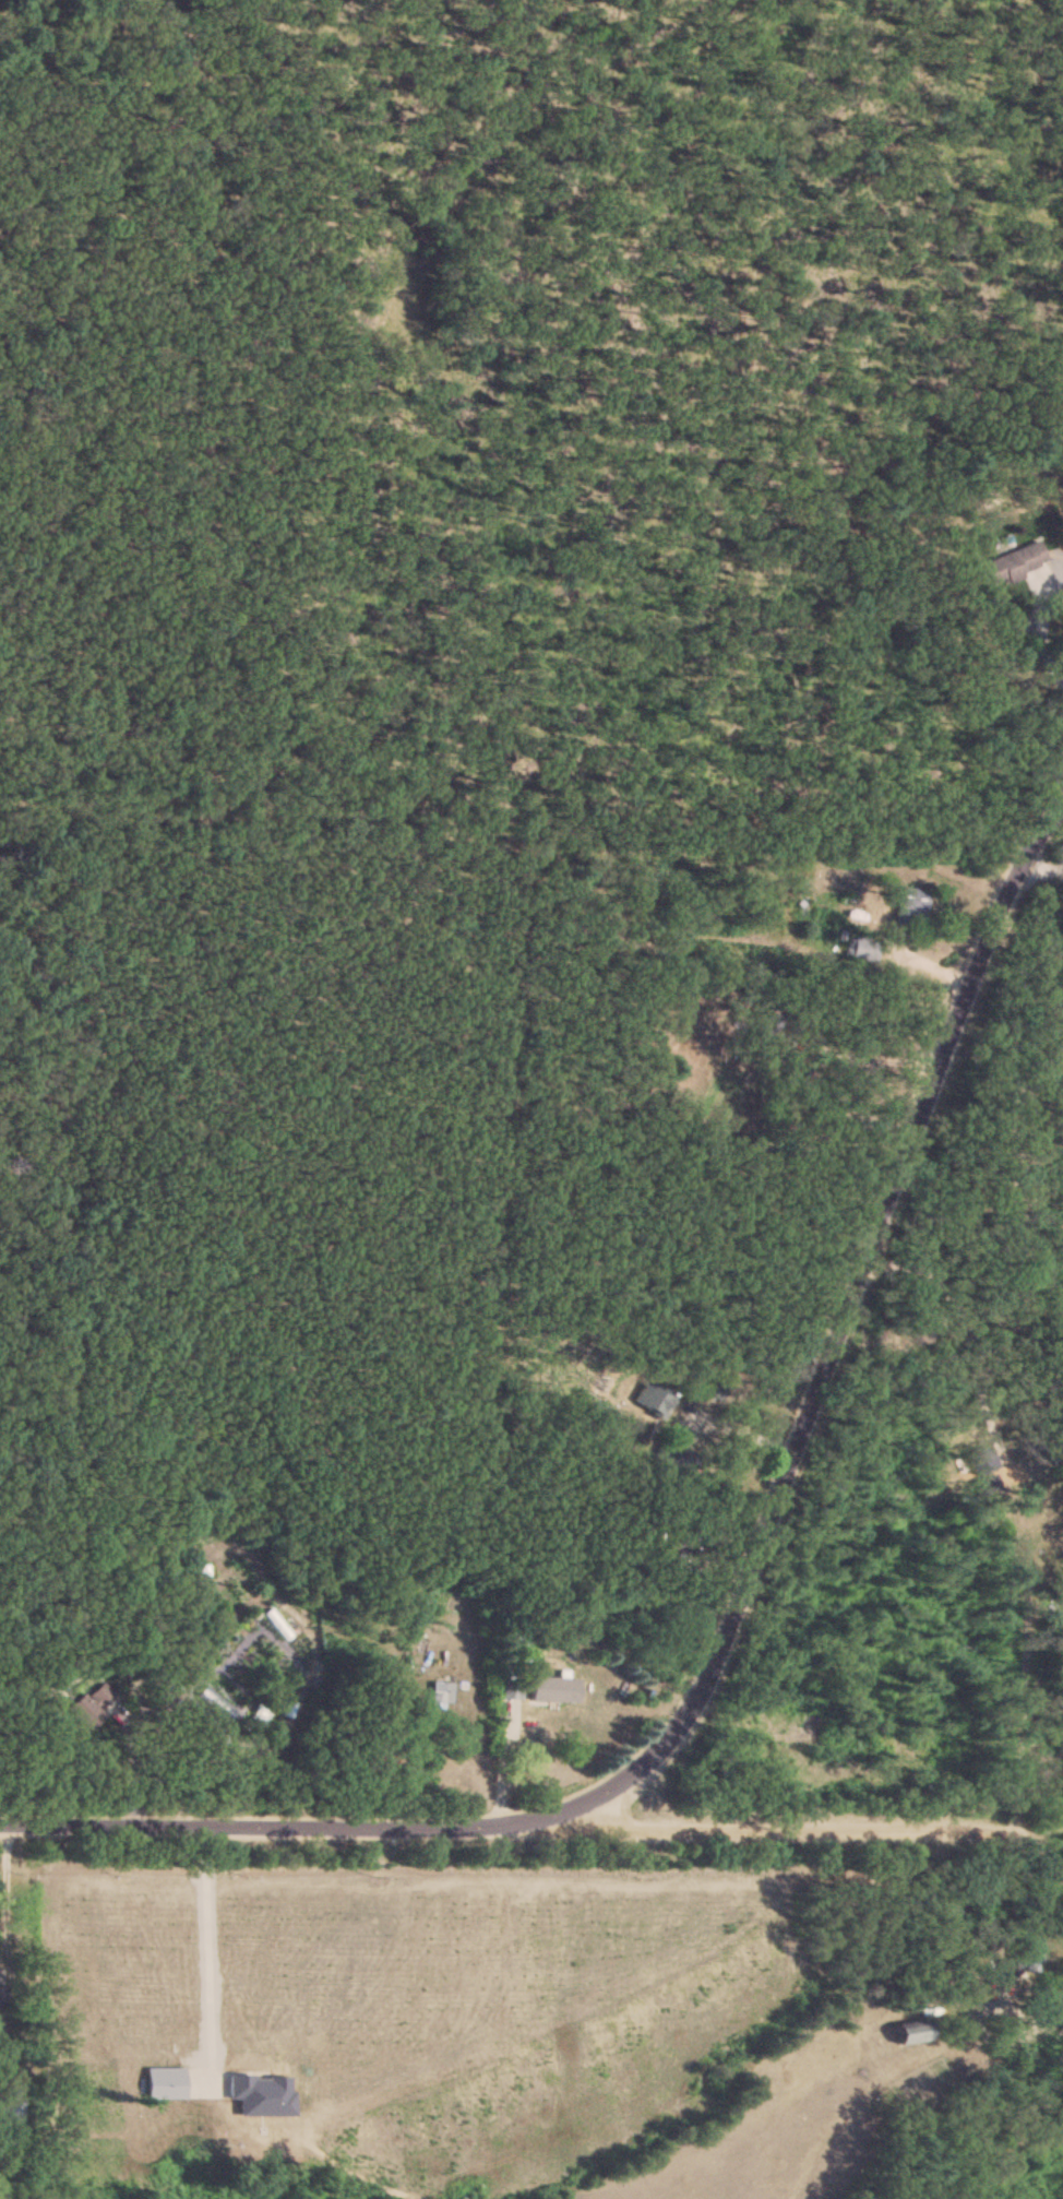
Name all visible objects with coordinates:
building: (1014, 561)
road: (1037, 641)
building: (909, 904)
building: (859, 948)
road: (976, 1335)
building: (720, 1388)
building: (654, 1399)
road: (740, 1427)
building: (980, 1461)
building: (678, 1545)
road: (739, 1591)
road: (1034, 1651)
building: (507, 1689)
building: (104, 1693)
building: (443, 1693)
building: (86, 1712)
building: (548, 1713)
building: (379, 1763)
road: (208, 1767)
road: (140, 1772)
road: (180, 1784)
road: (765, 1830)
road: (1044, 1854)
road: (4, 1895)
road: (208, 1939)
building: (1023, 1957)
road: (1023, 2028)
building: (916, 2032)
building: (10, 2103)
building: (5, 2141)

